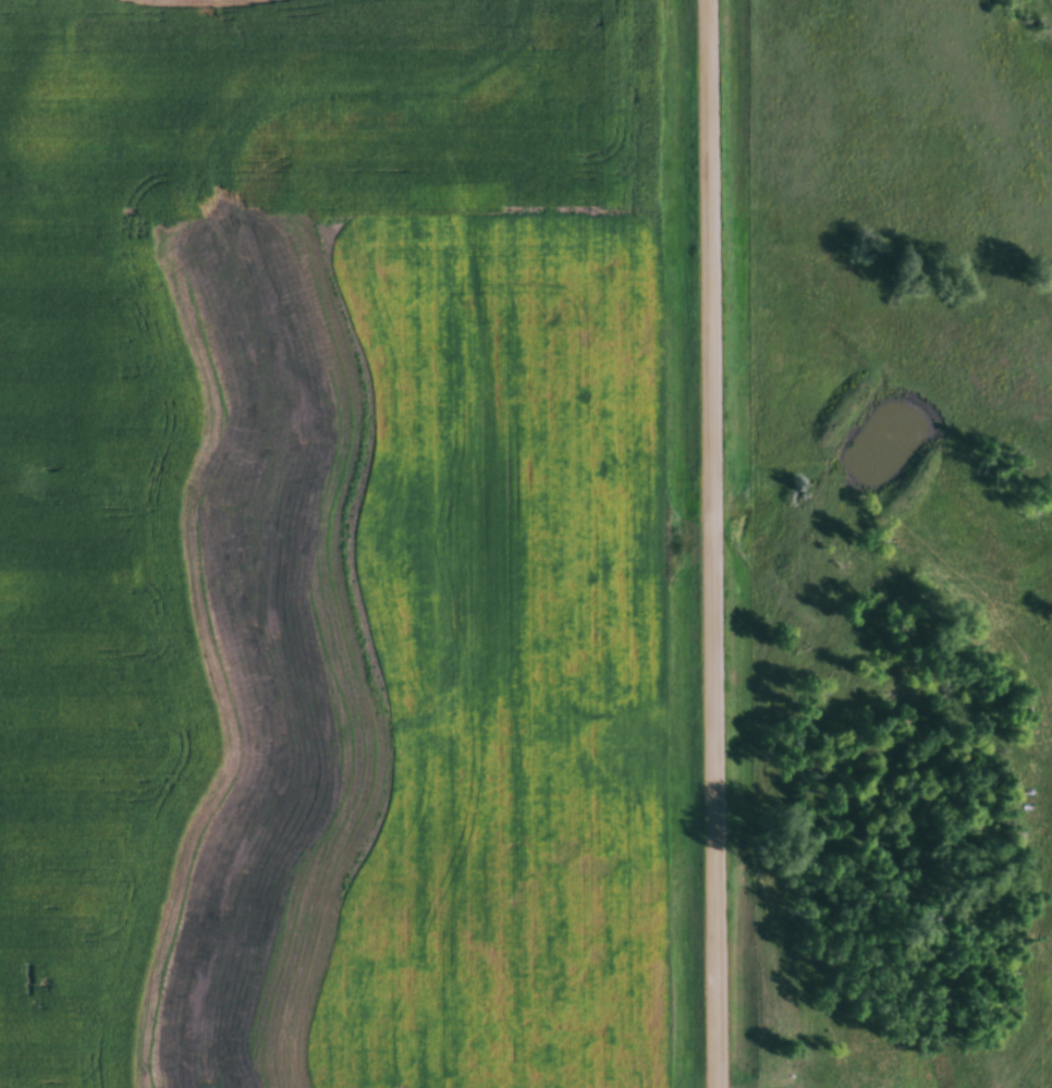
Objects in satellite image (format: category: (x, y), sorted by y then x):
road: (710, 543)

